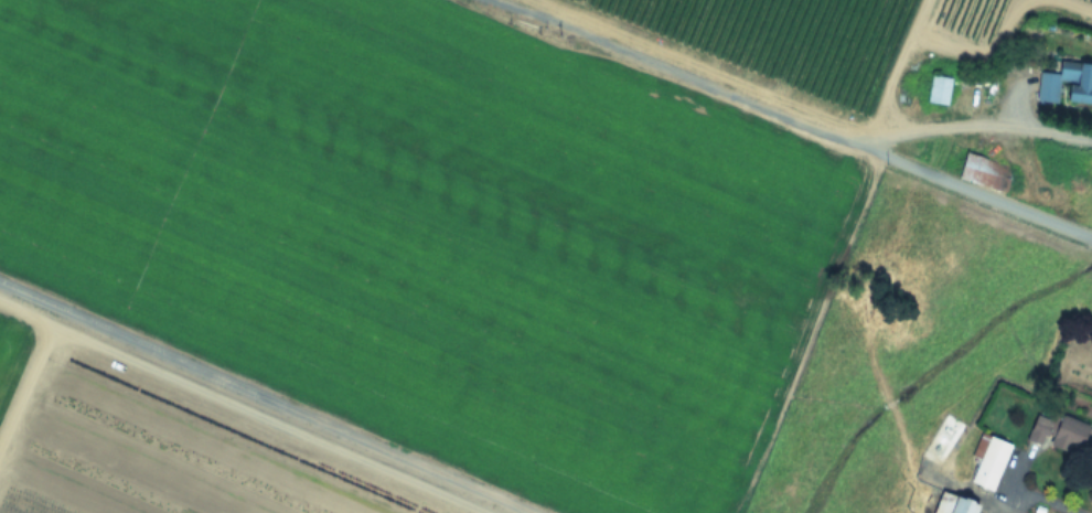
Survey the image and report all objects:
building: (802, 49)
building: (1066, 84)
building: (938, 89)
road: (788, 106)
building: (977, 171)
road: (965, 184)
crop: (543, 255)
road: (267, 398)
building: (1057, 431)
building: (942, 438)
building: (988, 461)
road: (1047, 499)
building: (952, 503)

